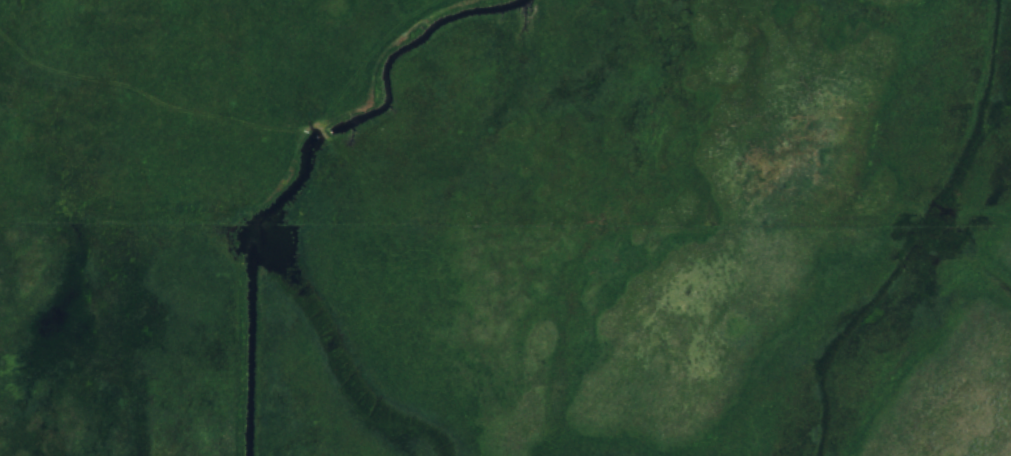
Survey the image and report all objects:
crop: (172, 229)

